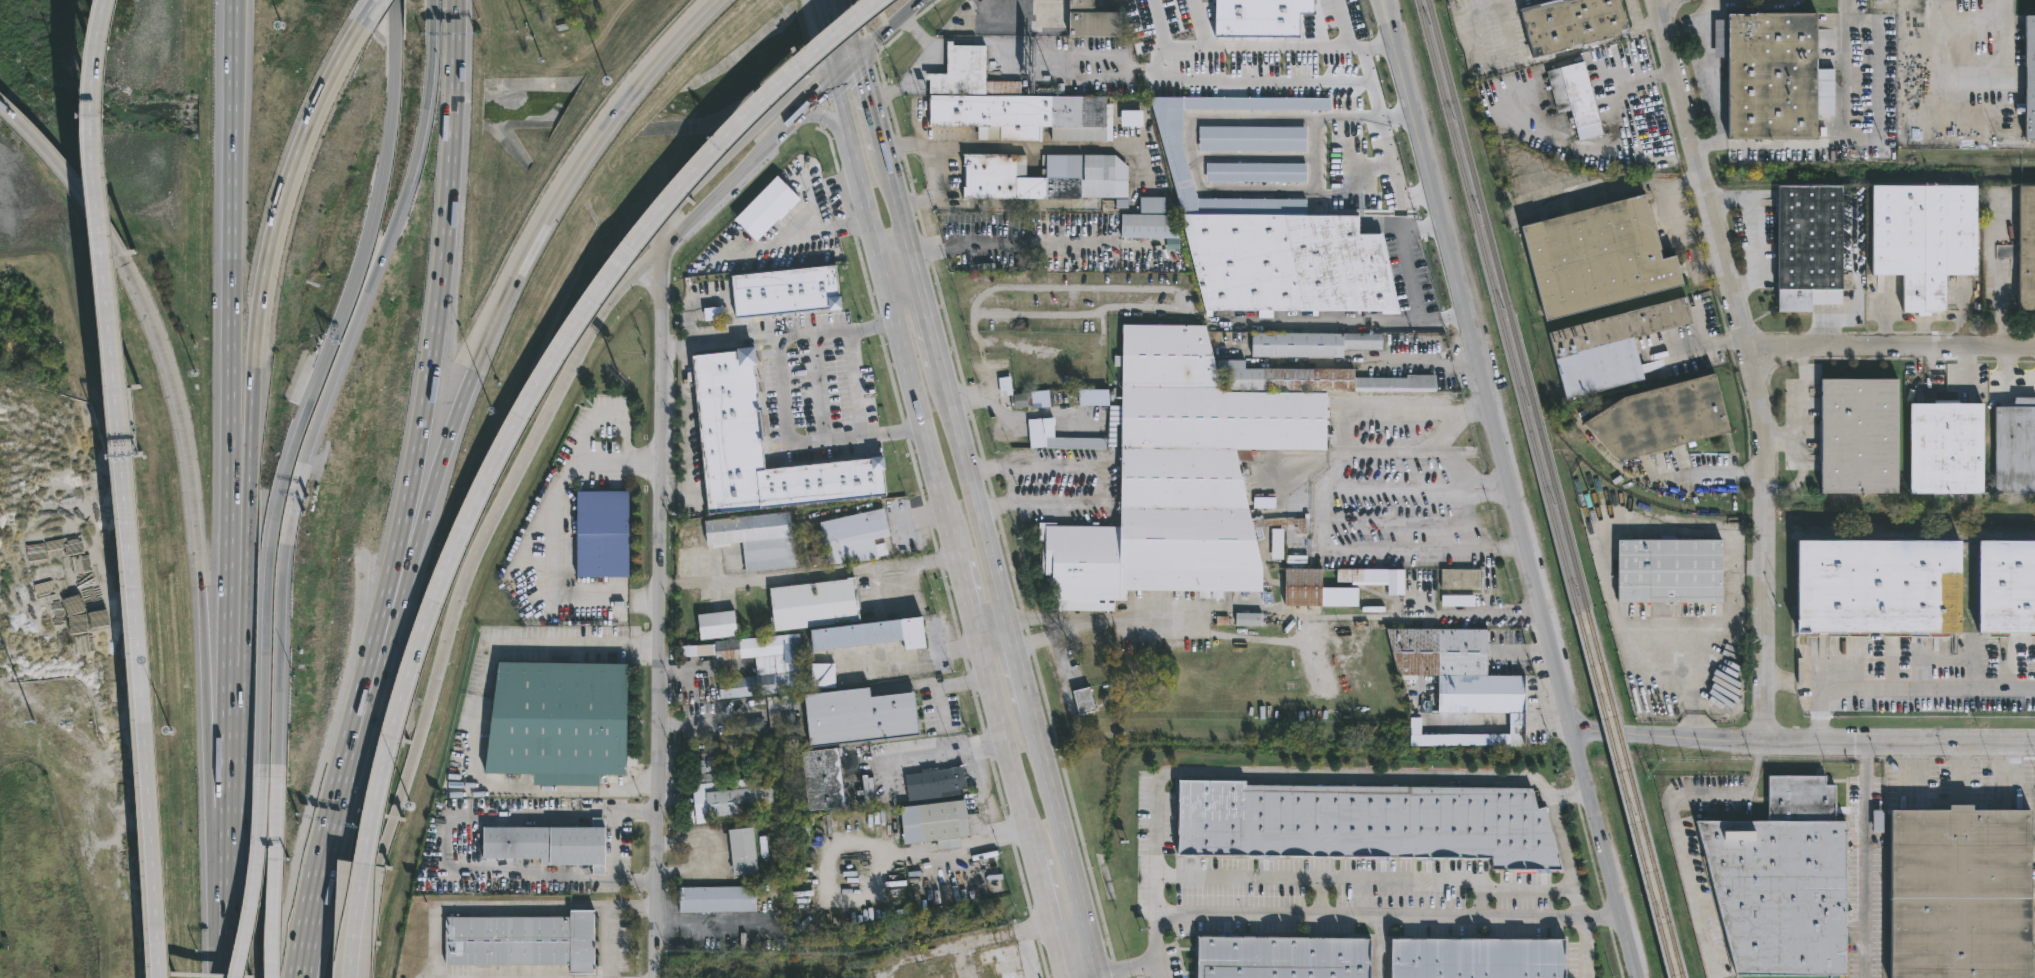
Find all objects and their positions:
road: (1753, 6)
building: (1078, 17)
road: (846, 19)
building: (1310, 19)
building: (1198, 21)
building: (961, 24)
building: (1004, 24)
road: (1343, 24)
road: (1475, 24)
building: (1569, 25)
road: (819, 28)
road: (887, 29)
traffic signals: (852, 38)
road: (985, 39)
road: (2012, 42)
road: (839, 47)
road: (855, 49)
road: (932, 49)
traffic signals: (827, 57)
traffic signals: (858, 60)
road: (845, 70)
road: (1188, 70)
road: (1707, 70)
building: (2027, 75)
building: (1767, 76)
traffic signals: (833, 81)
road: (884, 94)
building: (1573, 94)
road: (816, 98)
building: (1012, 103)
road: (868, 106)
building: (1134, 118)
road: (1364, 118)
road: (827, 120)
road: (785, 129)
building: (1255, 138)
road: (1841, 143)
road: (1007, 145)
road: (734, 150)
road: (1612, 151)
road: (98, 160)
building: (1258, 172)
road: (66, 176)
building: (1089, 176)
road: (1390, 176)
road: (937, 193)
road: (715, 198)
road: (895, 199)
road: (1012, 204)
building: (763, 210)
building: (1148, 219)
building: (1289, 222)
road: (793, 236)
road: (390, 237)
building: (1923, 238)
building: (969, 239)
building: (1803, 245)
building: (2024, 247)
road: (894, 250)
road: (1402, 252)
building: (1595, 256)
road: (265, 260)
road: (523, 262)
road: (229, 271)
road: (1994, 273)
road: (439, 284)
building: (789, 291)
road: (908, 303)
railway: (1507, 304)
road: (925, 307)
railway: (1497, 307)
road: (893, 311)
road: (1441, 320)
road: (837, 333)
road: (723, 343)
building: (1316, 343)
building: (1603, 346)
road: (1703, 347)
road: (1893, 347)
road: (667, 348)
road: (1367, 361)
road: (1754, 365)
building: (1320, 379)
road: (854, 384)
road: (315, 386)
building: (1096, 396)
building: (1039, 399)
building: (1018, 402)
road: (1801, 411)
road: (1017, 418)
building: (1653, 418)
road: (686, 421)
road: (1346, 425)
road: (589, 428)
road: (511, 432)
building: (1852, 435)
building: (1064, 439)
road: (803, 443)
building: (764, 446)
building: (2013, 447)
building: (1940, 448)
toll booth: (125, 455)
road: (1454, 461)
road: (1715, 476)
building: (1181, 478)
road: (1799, 478)
road: (1099, 480)
road: (1485, 481)
road: (1512, 487)
road: (1371, 488)
road: (667, 496)
road: (683, 496)
road: (1487, 497)
road: (975, 500)
toll booth: (293, 502)
road: (292, 504)
road: (191, 505)
railway: (1766, 512)
road: (1703, 528)
building: (602, 533)
road: (552, 537)
building: (857, 537)
building: (759, 539)
road: (1496, 549)
road: (1392, 550)
building: (1669, 571)
road: (809, 576)
building: (1379, 579)
building: (1462, 579)
building: (1880, 585)
building: (2005, 587)
building: (1318, 590)
road: (968, 594)
road: (461, 596)
building: (810, 602)
building: (1456, 603)
road: (231, 605)
road: (241, 605)
road: (657, 615)
road: (990, 618)
building: (1252, 619)
building: (719, 625)
road: (1146, 627)
road: (1086, 628)
building: (866, 635)
road: (138, 649)
road: (372, 651)
road: (381, 653)
road: (279, 661)
building: (757, 664)
road: (1018, 668)
building: (1462, 671)
building: (820, 676)
road: (1900, 689)
building: (1081, 700)
road: (1819, 714)
building: (852, 716)
road: (708, 721)
building: (562, 722)
power tower: (32, 724)
road: (474, 724)
building: (750, 729)
road: (1005, 741)
road: (1803, 743)
road: (927, 756)
road: (233, 762)
building: (792, 764)
building: (704, 768)
road: (1259, 774)
building: (950, 779)
building: (826, 780)
railway: (1635, 793)
road: (977, 795)
railway: (1625, 796)
building: (732, 799)
road: (220, 810)
road: (622, 813)
building: (1364, 823)
building: (939, 824)
road: (1674, 827)
road: (1062, 838)
building: (546, 845)
road: (613, 847)
building: (745, 852)
road: (954, 852)
road: (322, 856)
road: (1865, 860)
road: (449, 869)
road: (256, 878)
road: (277, 878)
road: (1332, 879)
building: (1776, 883)
road: (1574, 887)
road: (1527, 888)
building: (1952, 894)
road: (1045, 898)
building: (718, 899)
road: (510, 907)
road: (1387, 914)
road: (232, 917)
road: (671, 919)
building: (524, 942)
road: (1380, 946)
road: (1061, 957)
building: (1282, 957)
building: (1476, 959)
building: (1003, 962)
road: (1154, 969)
building: (912, 972)
road: (1086, 975)
road: (1098, 975)
park: (1788, 976)

